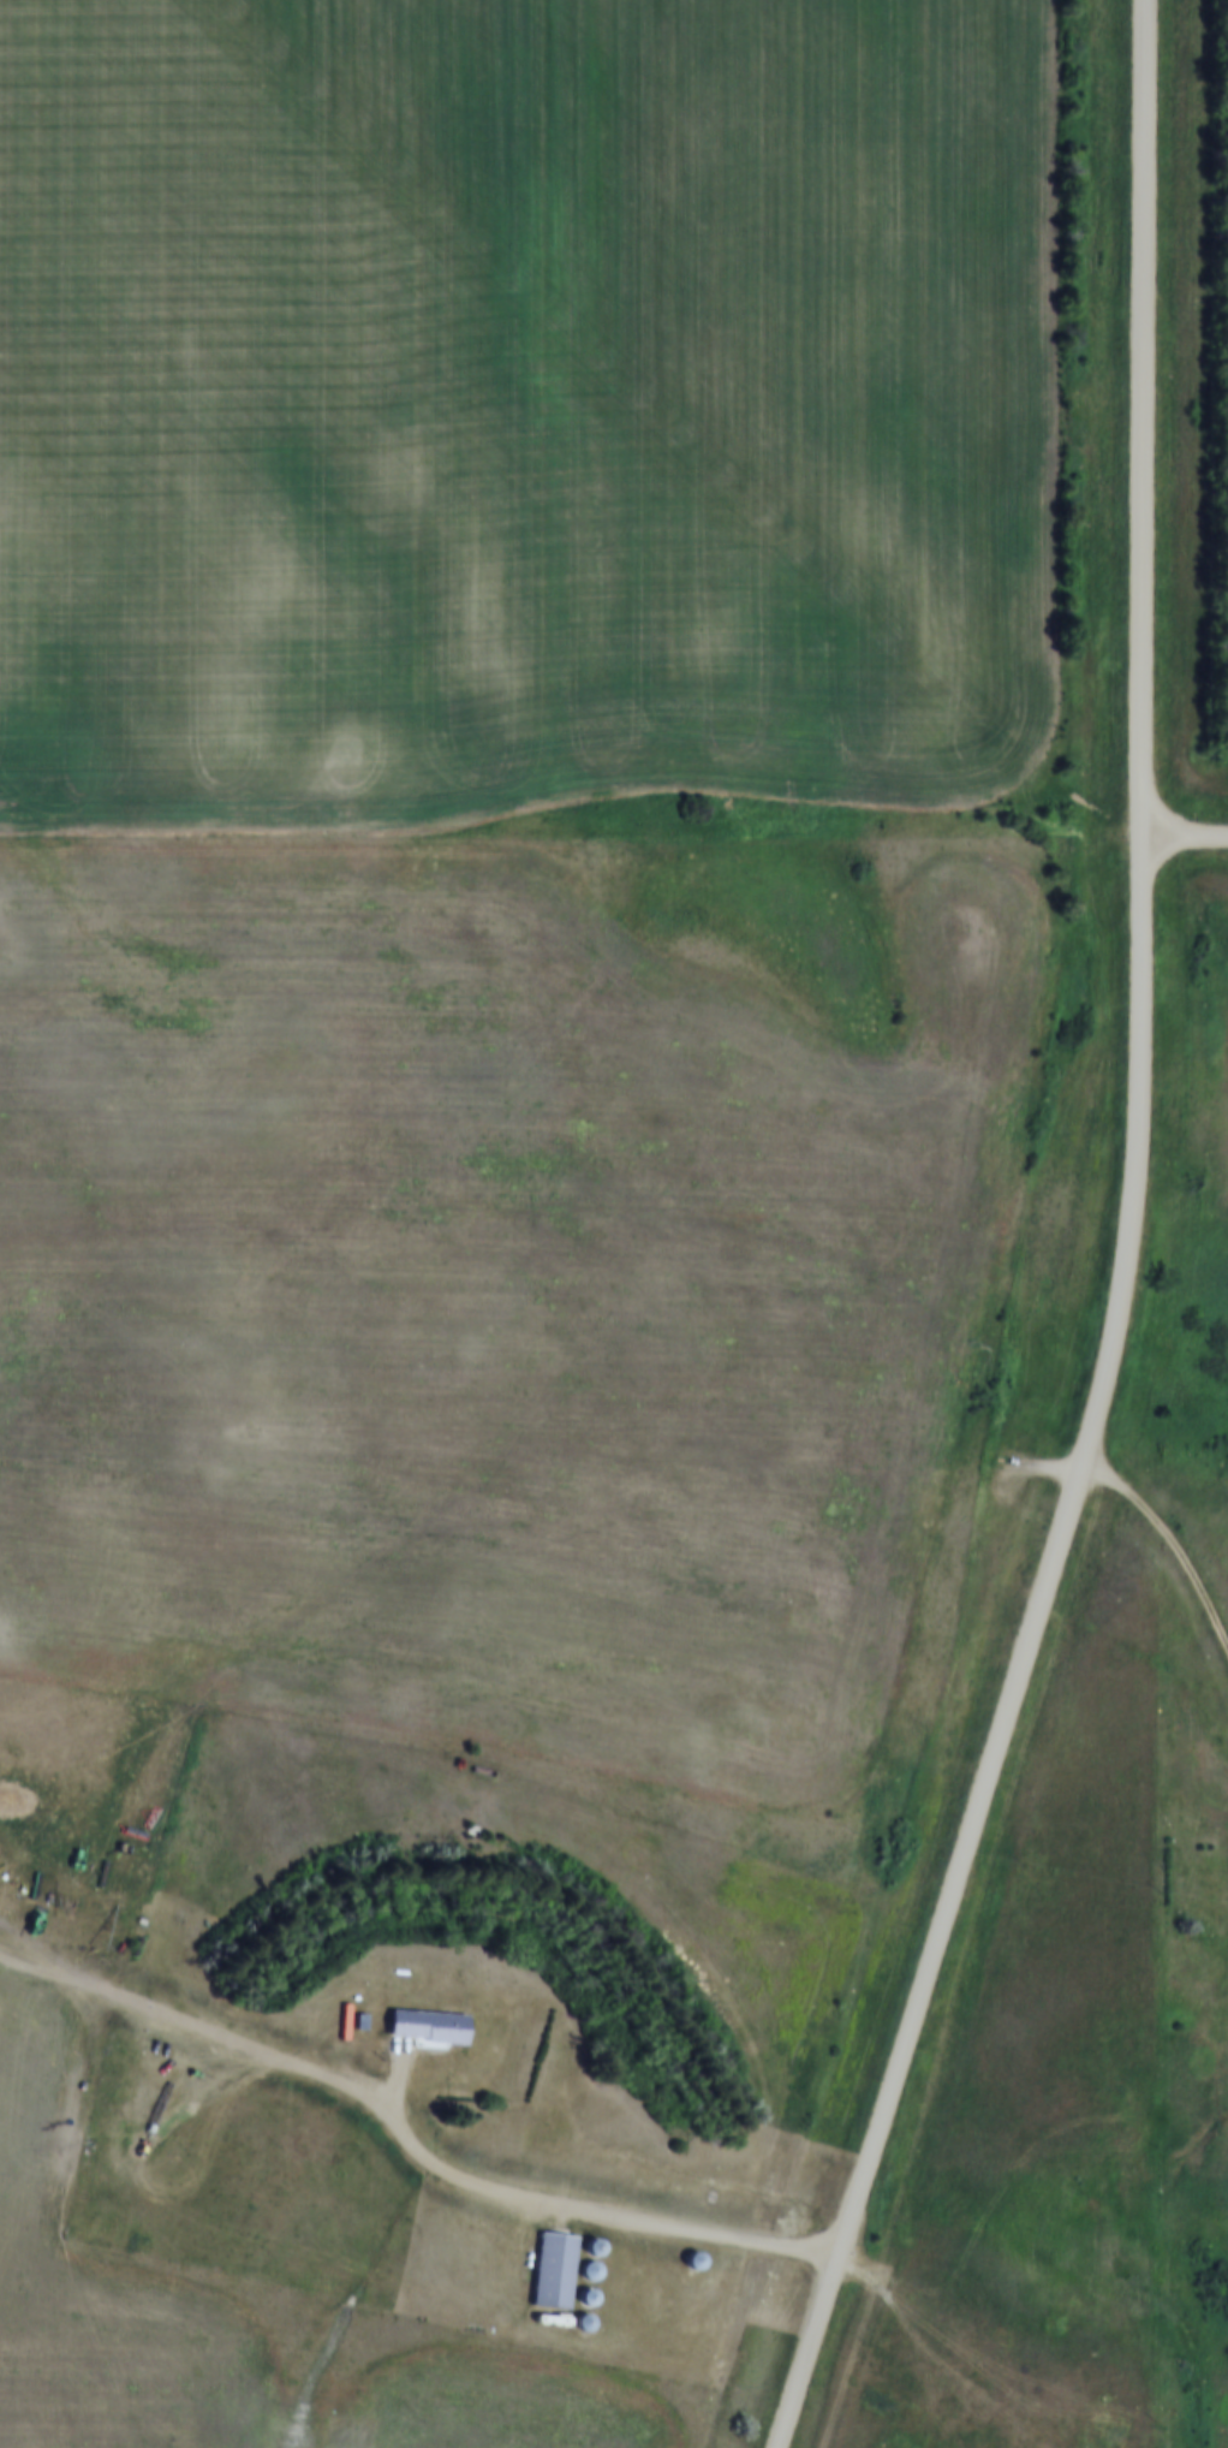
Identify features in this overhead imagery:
road: (1146, 418)
road: (1186, 837)
road: (1168, 1539)
road: (1029, 1654)
building: (436, 2018)
road: (199, 2028)
road: (572, 2209)
building: (602, 2240)
silo: (602, 2240)
building: (702, 2252)
silo: (702, 2252)
building: (692, 2260)
building: (562, 2262)
building: (598, 2264)
silo: (598, 2264)
building: (591, 2271)
building: (596, 2289)
silo: (596, 2289)
building: (592, 2315)
silo: (592, 2315)

